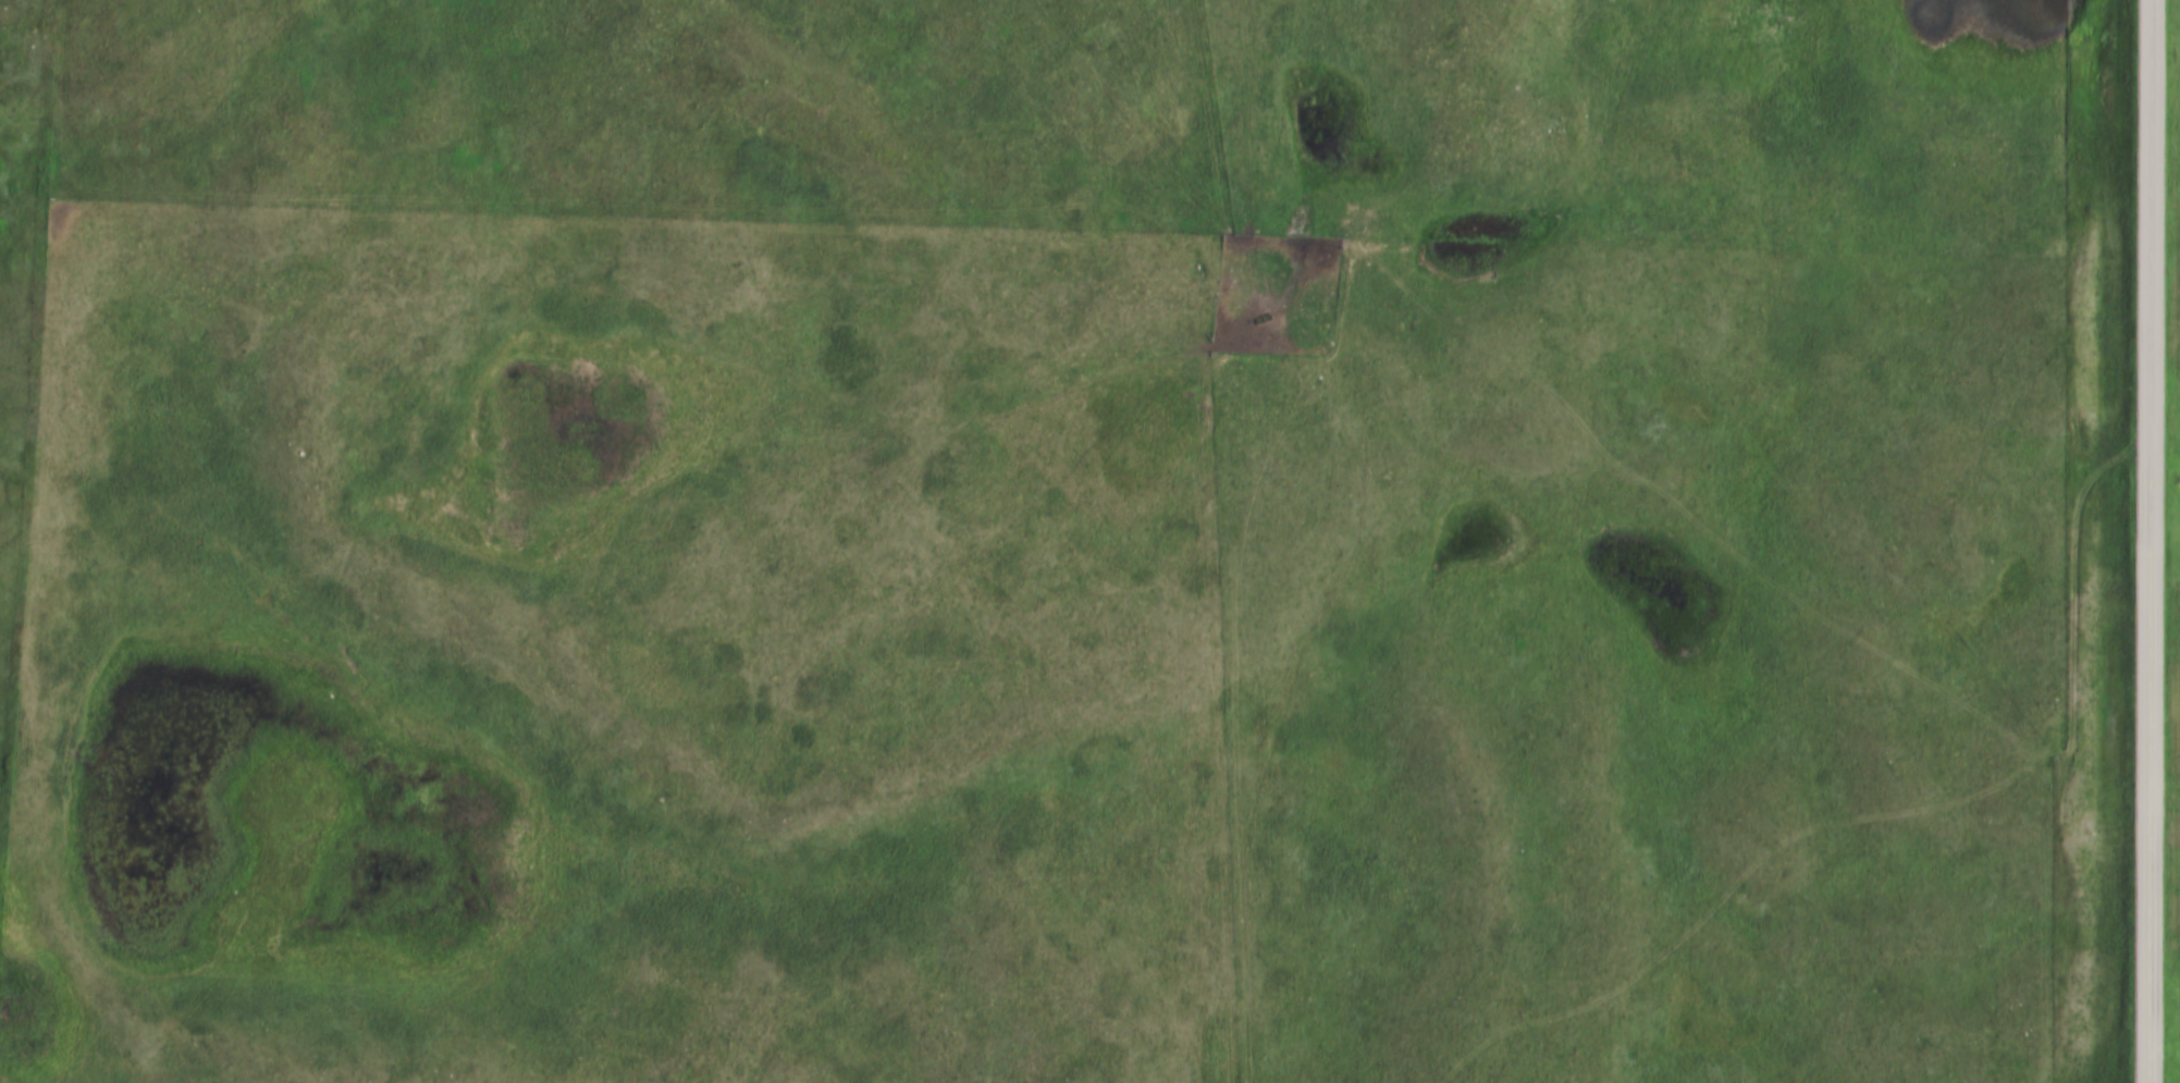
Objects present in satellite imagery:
road: (2151, 541)

